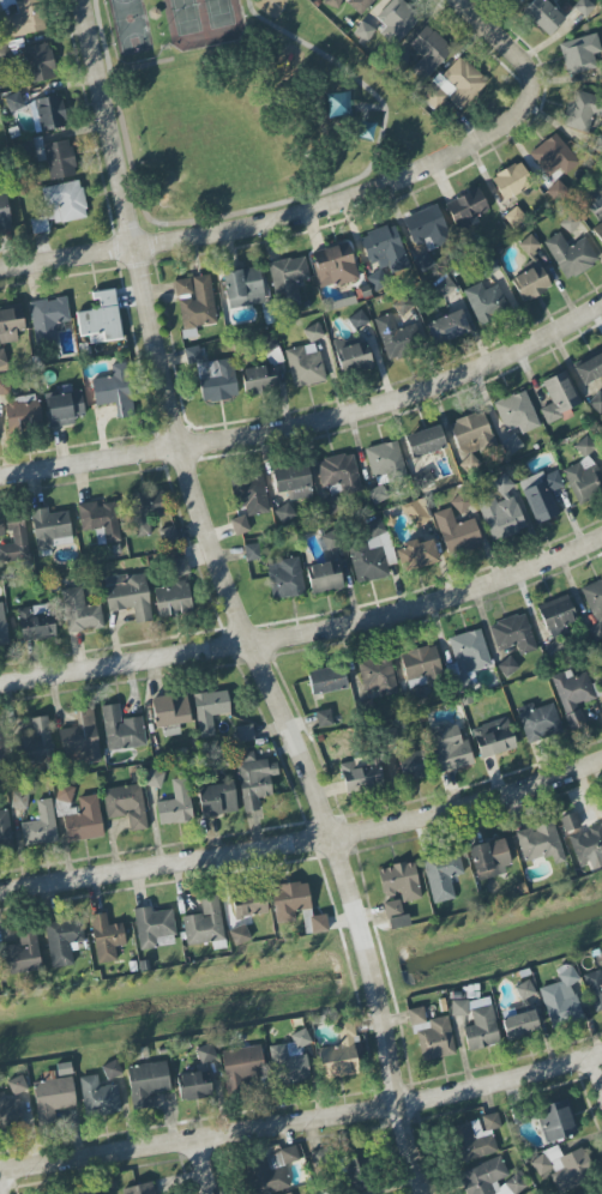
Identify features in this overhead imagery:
building: (332, 2)
building: (6, 4)
building: (360, 5)
building: (584, 7)
building: (543, 16)
building: (25, 19)
building: (397, 20)
park: (203, 23)
park: (131, 26)
road: (498, 40)
building: (428, 53)
building: (579, 54)
building: (38, 62)
road: (142, 65)
building: (453, 85)
building: (13, 102)
building: (338, 105)
park: (248, 107)
building: (582, 111)
building: (49, 113)
building: (554, 156)
building: (55, 157)
building: (511, 181)
building: (65, 201)
road: (269, 205)
building: (466, 207)
building: (4, 211)
road: (282, 211)
building: (513, 217)
road: (140, 223)
building: (426, 227)
road: (149, 231)
building: (598, 233)
building: (529, 245)
building: (384, 255)
building: (571, 255)
building: (423, 261)
building: (333, 266)
building: (288, 279)
building: (530, 281)
building: (245, 288)
building: (444, 288)
building: (197, 302)
building: (486, 302)
building: (403, 307)
building: (47, 319)
building: (101, 319)
building: (359, 320)
building: (10, 322)
building: (447, 327)
building: (313, 333)
building: (395, 337)
building: (353, 356)
building: (2, 362)
building: (305, 366)
building: (589, 369)
building: (213, 376)
building: (259, 379)
building: (4, 387)
building: (114, 391)
building: (559, 397)
building: (596, 402)
building: (65, 409)
building: (517, 412)
building: (23, 414)
road: (311, 422)
building: (471, 433)
building: (425, 441)
building: (512, 445)
building: (584, 447)
building: (385, 463)
building: (338, 475)
building: (583, 480)
building: (293, 482)
building: (542, 494)
building: (252, 495)
building: (377, 495)
building: (145, 511)
building: (502, 512)
building: (285, 513)
building: (416, 513)
building: (100, 521)
building: (240, 525)
building: (1, 527)
building: (49, 527)
building: (458, 533)
building: (168, 535)
building: (14, 541)
building: (252, 551)
building: (416, 555)
building: (369, 556)
building: (325, 577)
building: (285, 578)
building: (173, 590)
building: (128, 595)
road: (231, 603)
building: (594, 605)
building: (79, 611)
building: (556, 616)
building: (35, 622)
building: (2, 627)
road: (307, 632)
building: (513, 634)
building: (466, 658)
building: (507, 667)
building: (420, 670)
building: (377, 675)
building: (326, 680)
building: (601, 687)
building: (573, 695)
building: (210, 711)
building: (170, 713)
building: (324, 718)
building: (538, 722)
building: (121, 730)
building: (245, 732)
building: (493, 738)
building: (80, 740)
building: (35, 742)
building: (1, 744)
building: (447, 748)
building: (411, 765)
building: (360, 777)
building: (153, 778)
building: (254, 779)
building: (64, 794)
building: (19, 800)
building: (217, 800)
building: (175, 804)
building: (126, 806)
building: (84, 821)
building: (40, 826)
building: (5, 831)
road: (303, 840)
building: (583, 842)
building: (540, 843)
building: (489, 858)
building: (441, 875)
building: (399, 882)
building: (289, 900)
building: (251, 906)
building: (392, 909)
building: (204, 922)
building: (398, 922)
building: (318, 924)
building: (152, 925)
building: (239, 935)
building: (106, 939)
building: (62, 941)
building: (22, 954)
building: (525, 990)
building: (561, 997)
building: (477, 1023)
building: (520, 1025)
building: (432, 1036)
building: (342, 1053)
building: (205, 1054)
building: (291, 1060)
building: (242, 1066)
building: (112, 1069)
road: (596, 1073)
building: (146, 1083)
building: (17, 1085)
building: (194, 1085)
building: (98, 1097)
building: (52, 1098)
building: (10, 1112)
building: (490, 1121)
building: (555, 1121)
road: (302, 1122)
building: (471, 1141)
road: (201, 1166)
building: (564, 1168)
building: (269, 1172)
building: (356, 1172)
building: (492, 1180)
road: (0, 1189)
building: (140, 1189)
building: (590, 1192)
building: (289, 1193)

